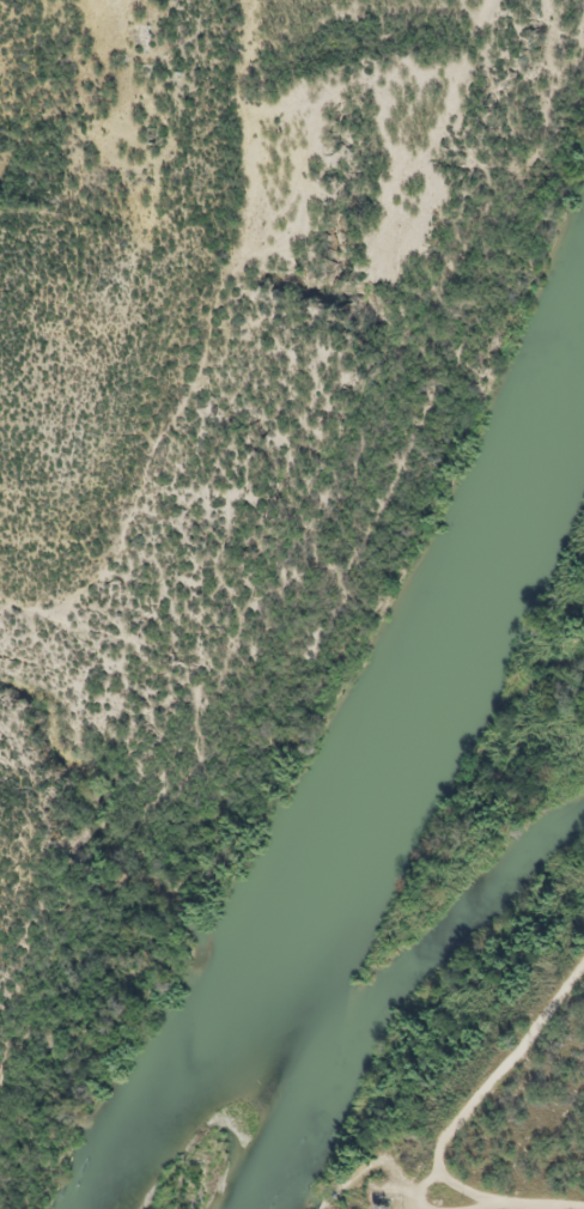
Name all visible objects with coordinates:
river: (385, 792)

